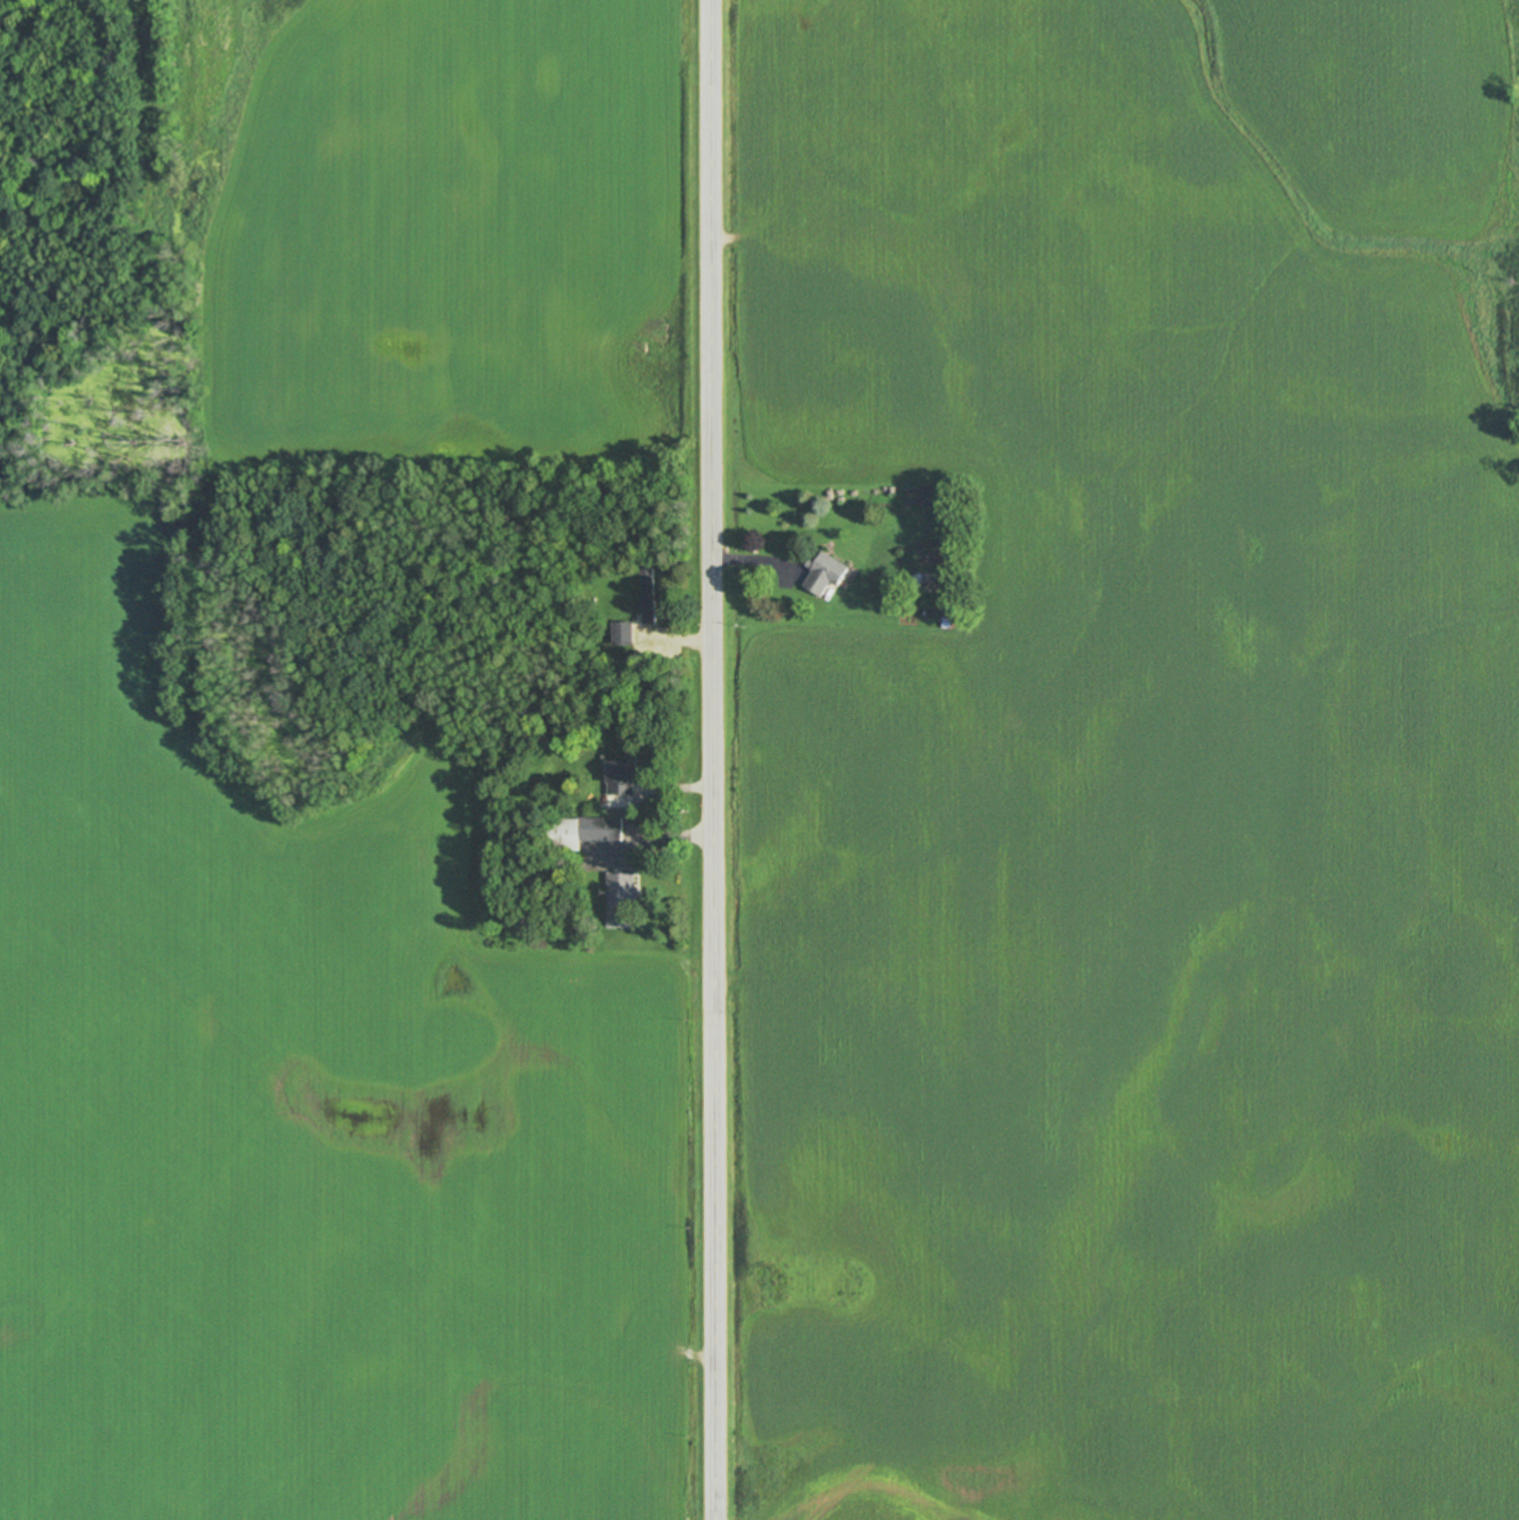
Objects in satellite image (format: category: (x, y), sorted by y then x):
road: (754, 559)
building: (823, 574)
building: (649, 596)
building: (624, 633)
road: (694, 643)
building: (641, 658)
building: (633, 725)
road: (715, 759)
building: (620, 773)
building: (609, 804)
road: (635, 821)
building: (583, 831)
building: (547, 868)
building: (622, 900)

